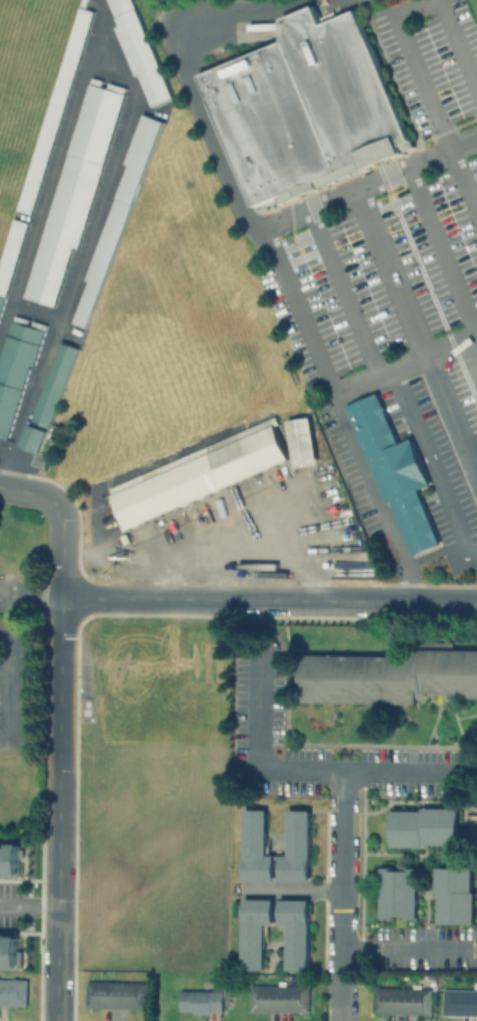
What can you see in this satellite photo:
road: (455, 50)
building: (139, 51)
road: (424, 96)
building: (307, 109)
building: (53, 111)
road: (371, 189)
building: (73, 191)
building: (118, 215)
parking lot: (394, 217)
road: (262, 230)
building: (10, 255)
road: (442, 255)
road: (263, 264)
road: (390, 277)
road: (344, 298)
road: (476, 337)
building: (15, 369)
building: (48, 397)
parking lot: (462, 398)
road: (451, 420)
building: (302, 443)
road: (471, 453)
road: (0, 461)
parking lot: (431, 462)
road: (429, 471)
building: (394, 472)
building: (198, 474)
road: (26, 492)
road: (375, 501)
road: (93, 547)
road: (189, 565)
road: (275, 569)
road: (224, 600)
road: (433, 602)
road: (76, 617)
road: (446, 630)
road: (4, 643)
road: (467, 645)
road: (375, 649)
road: (59, 670)
building: (388, 676)
parking lot: (257, 699)
road: (451, 710)
road: (436, 722)
road: (467, 738)
road: (318, 747)
road: (291, 770)
building: (424, 826)
building: (255, 846)
building: (296, 847)
building: (8, 855)
road: (340, 871)
road: (290, 889)
building: (398, 893)
building: (454, 896)
road: (28, 908)
road: (55, 929)
building: (255, 931)
building: (296, 932)
road: (408, 946)
building: (7, 949)
building: (13, 992)
building: (115, 996)
road: (339, 996)
building: (278, 999)
building: (400, 1000)
building: (199, 1002)
building: (459, 1002)

